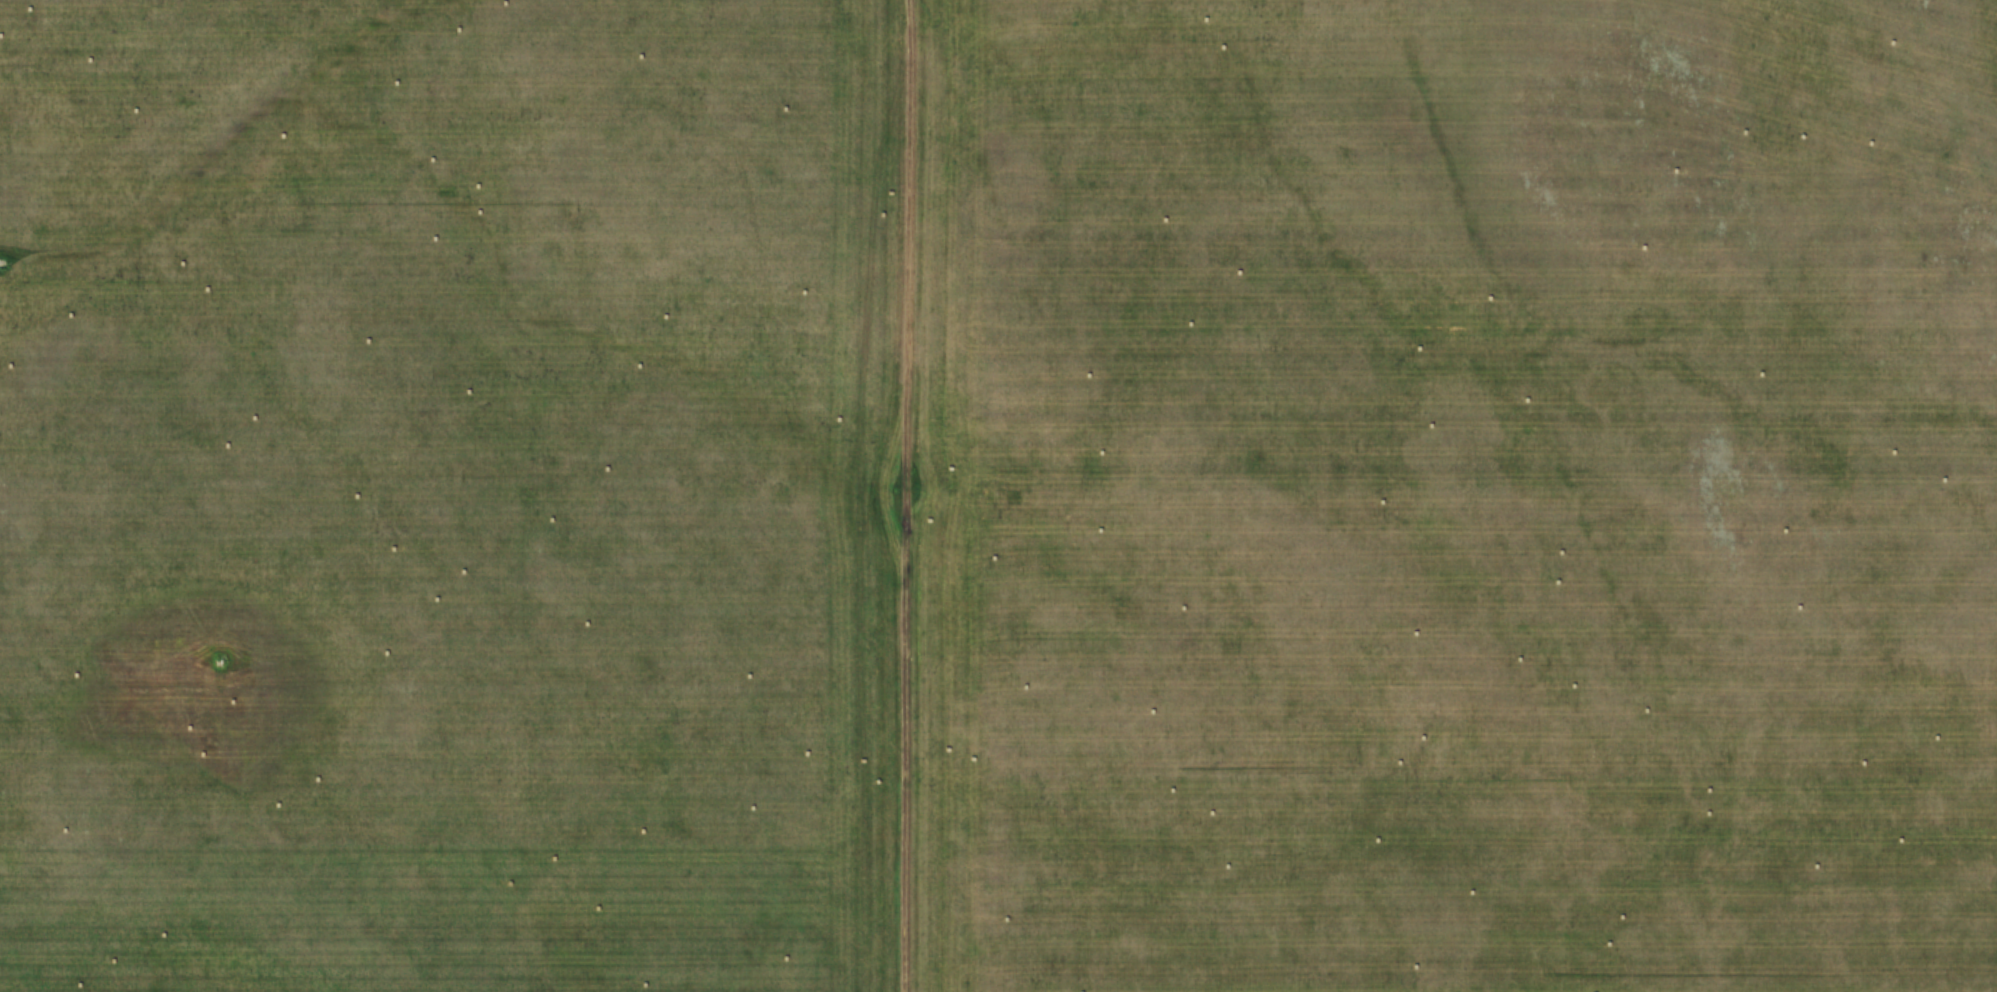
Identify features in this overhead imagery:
road: (913, 496)

